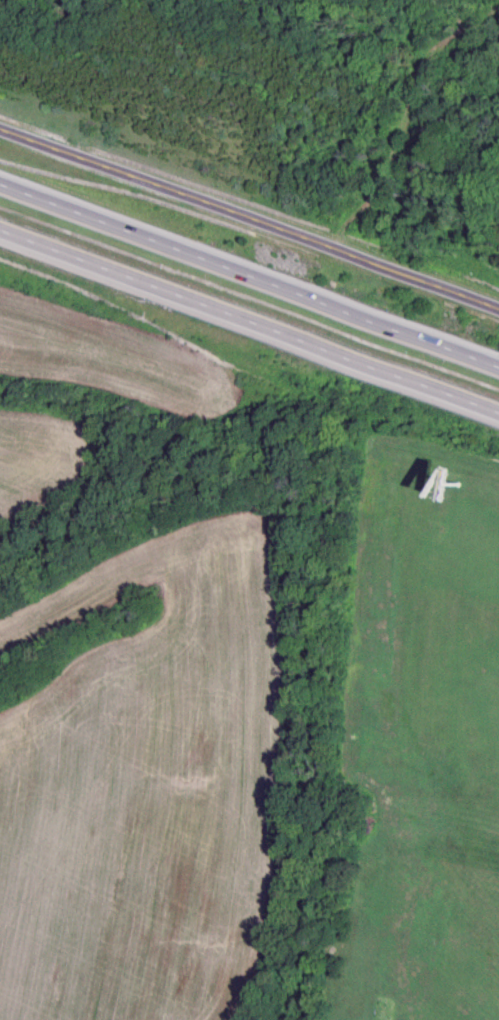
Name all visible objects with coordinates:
road: (249, 218)
road: (249, 272)
road: (249, 321)

